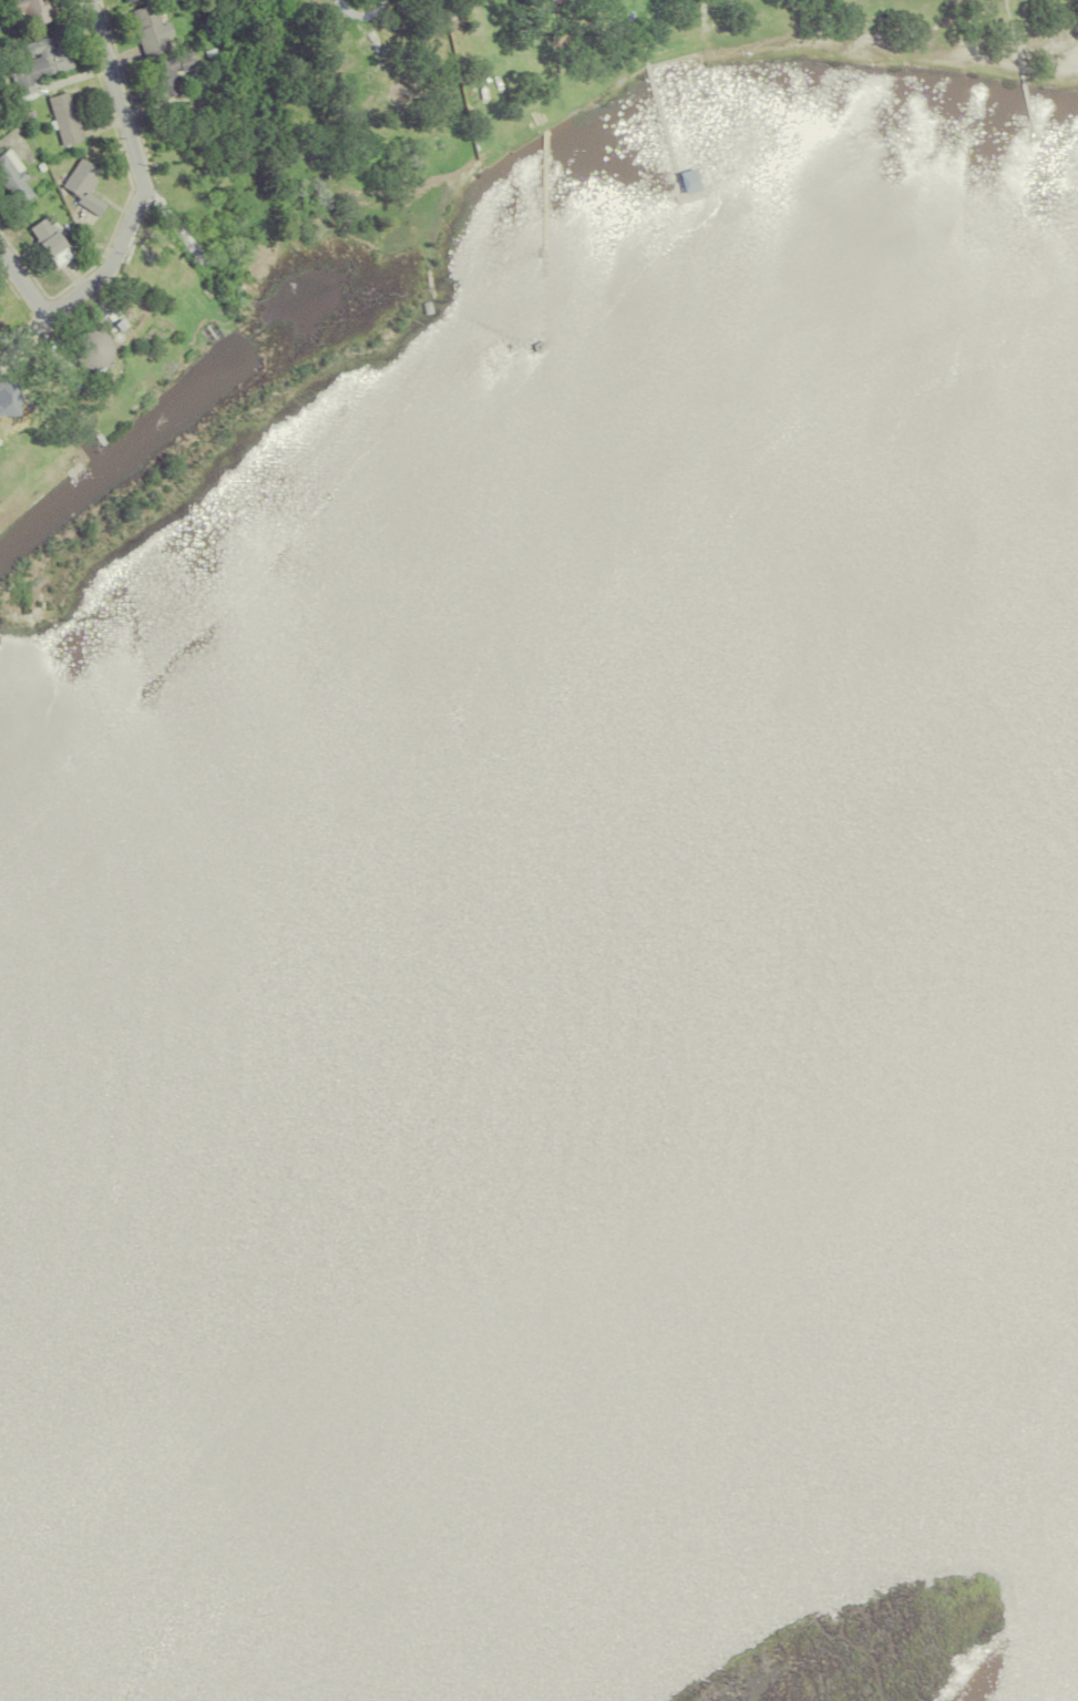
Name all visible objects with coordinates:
building: (123, 0)
building: (525, 0)
building: (25, 9)
building: (145, 28)
building: (199, 29)
building: (35, 62)
building: (165, 71)
building: (24, 112)
building: (59, 116)
building: (10, 177)
road: (141, 180)
building: (79, 184)
building: (51, 201)
building: (44, 239)
road: (18, 277)
building: (194, 290)
building: (100, 319)
building: (88, 350)

